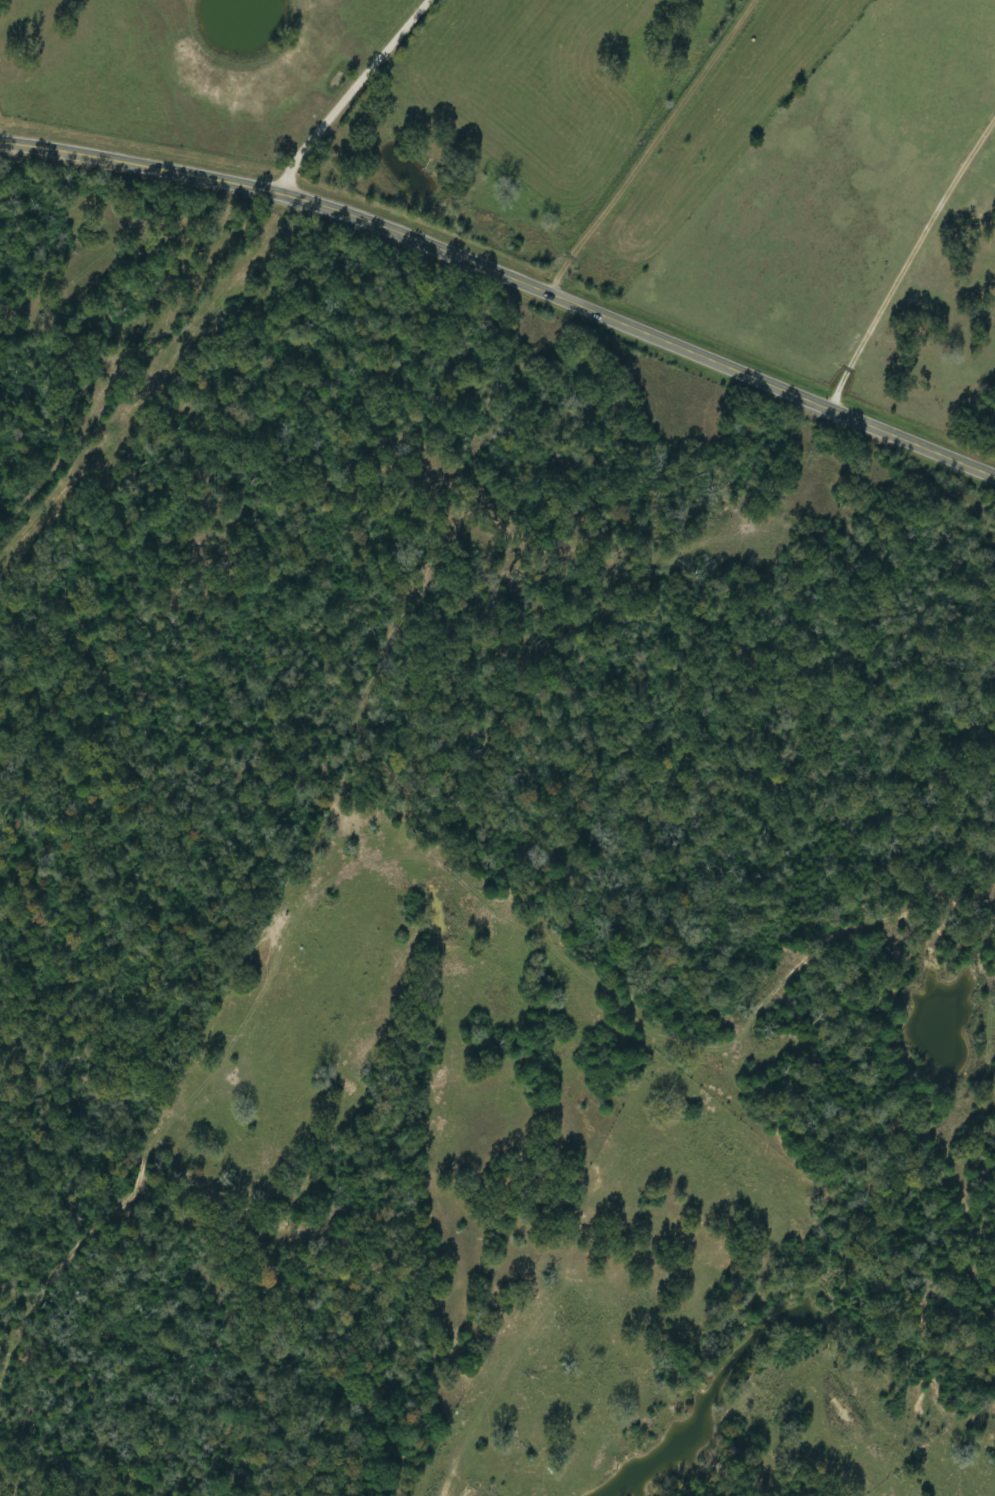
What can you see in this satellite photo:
road: (189, 87)
road: (654, 146)
road: (507, 275)

